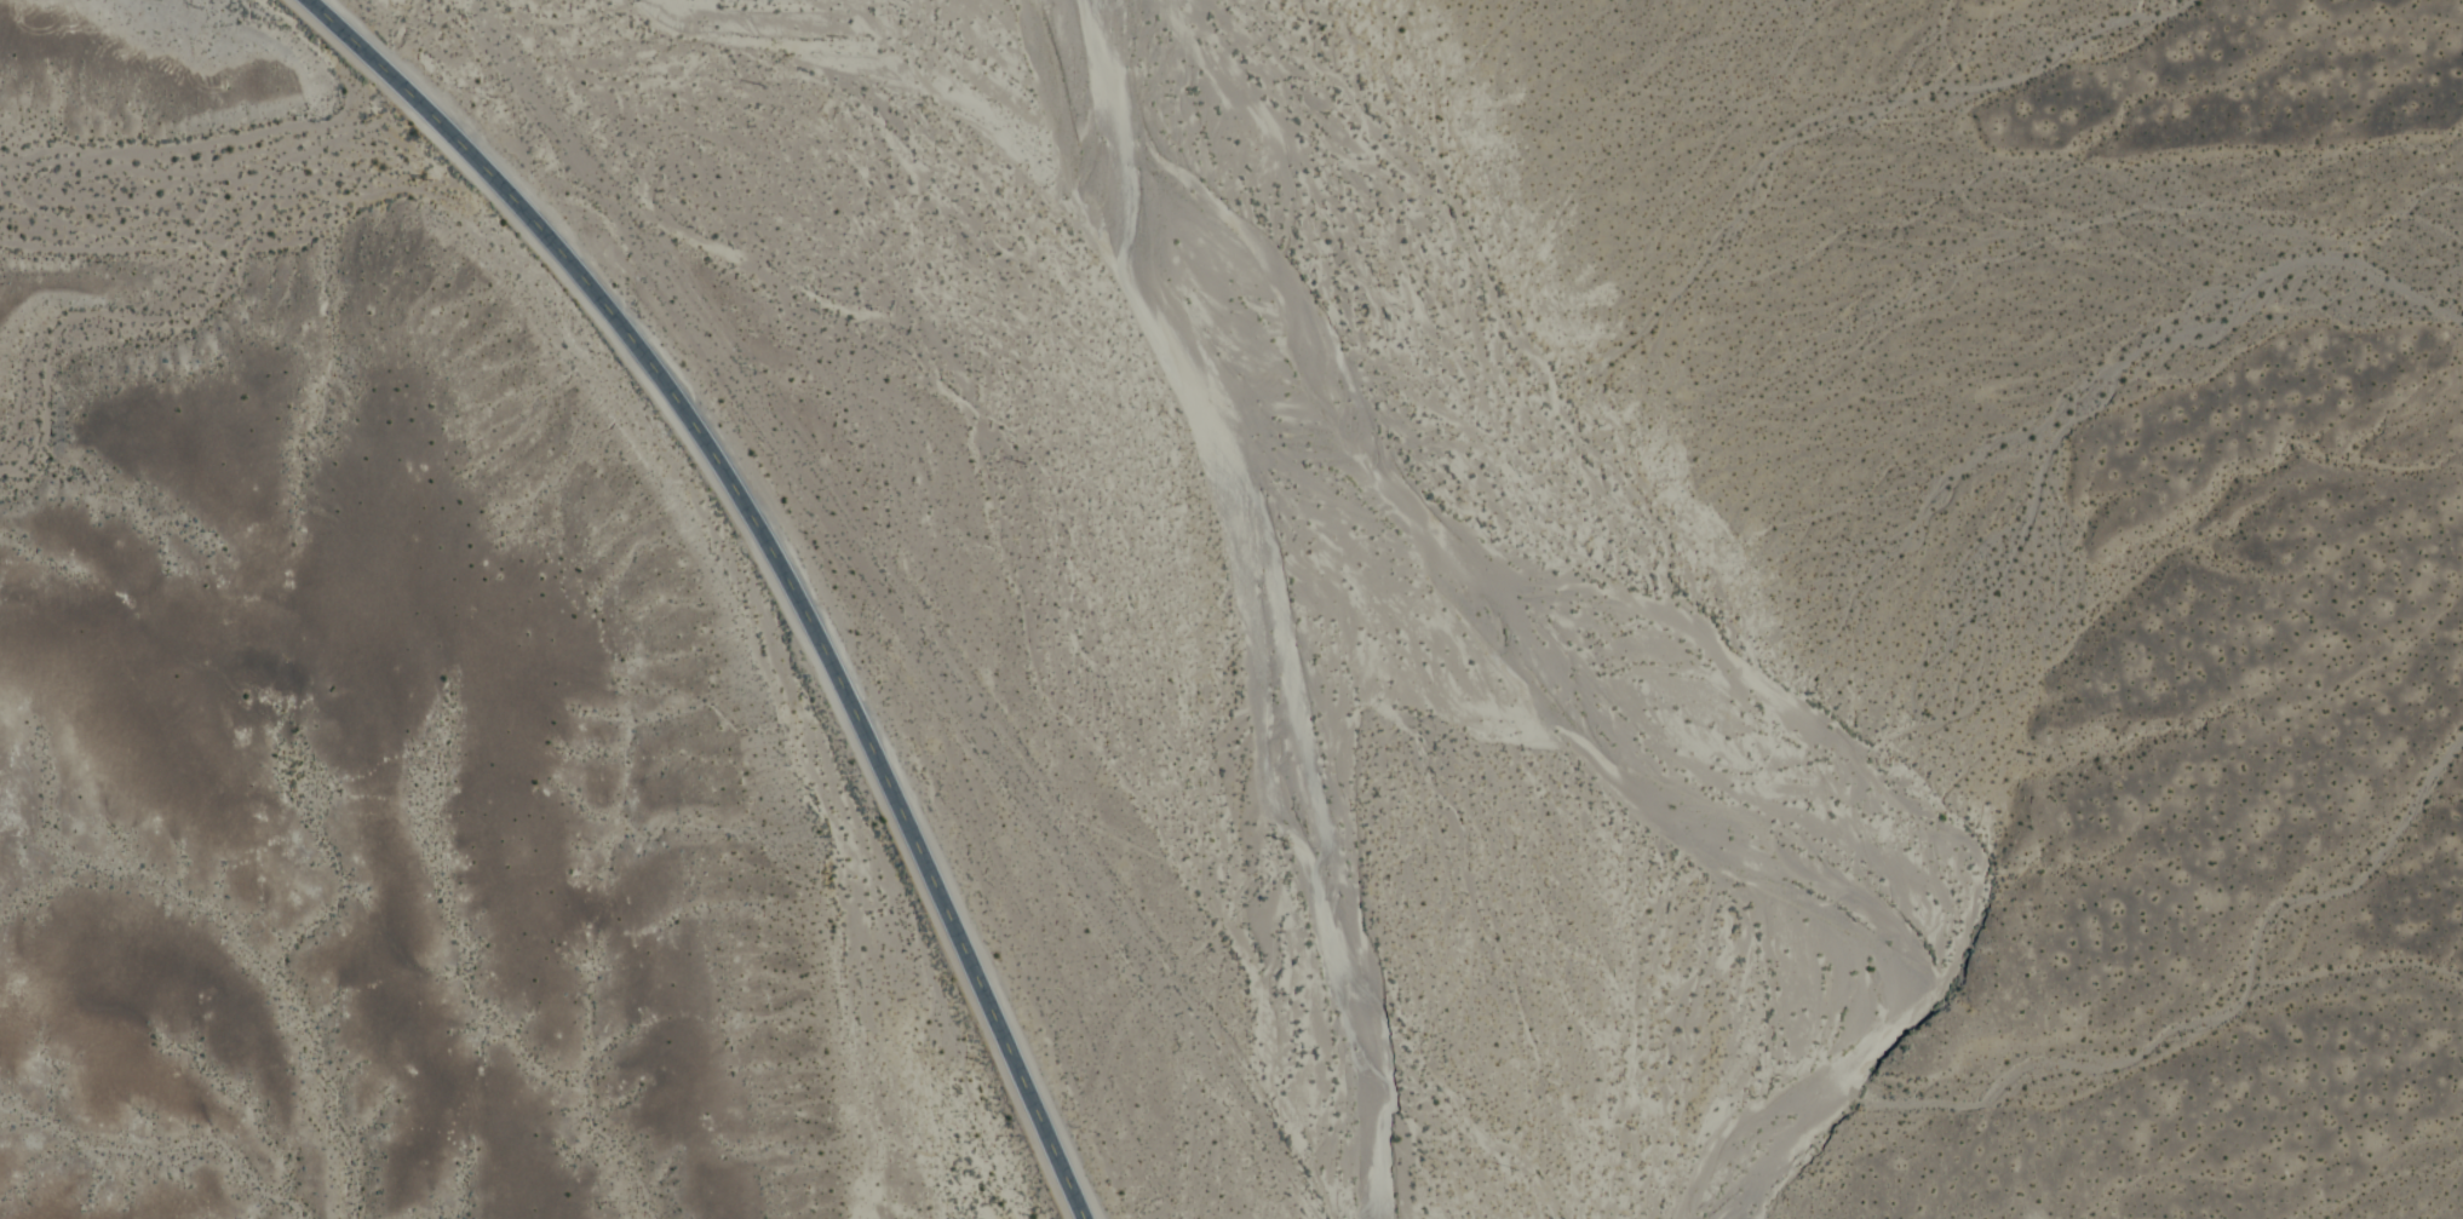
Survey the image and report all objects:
river: (1489, 537)
road: (773, 558)

